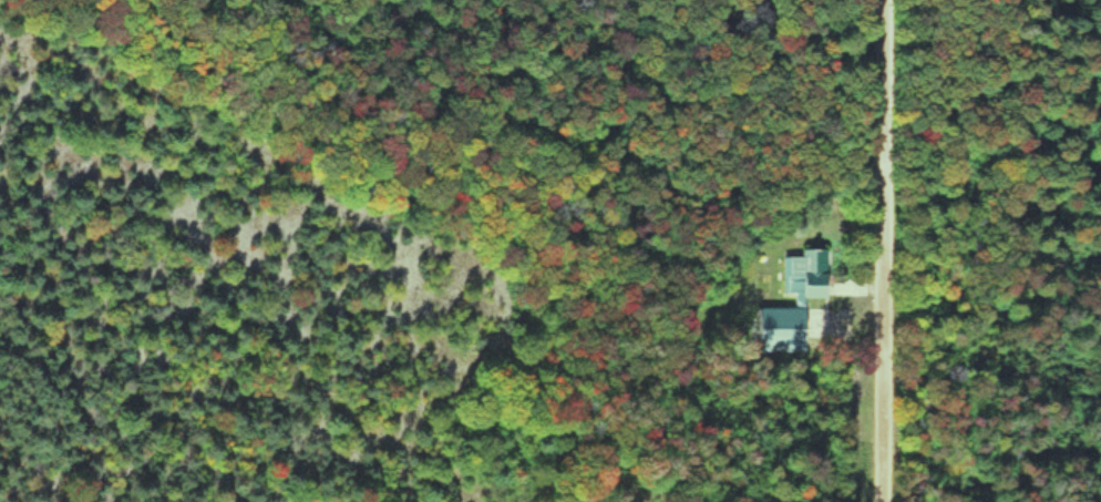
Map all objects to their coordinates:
road: (873, 250)
building: (790, 304)

